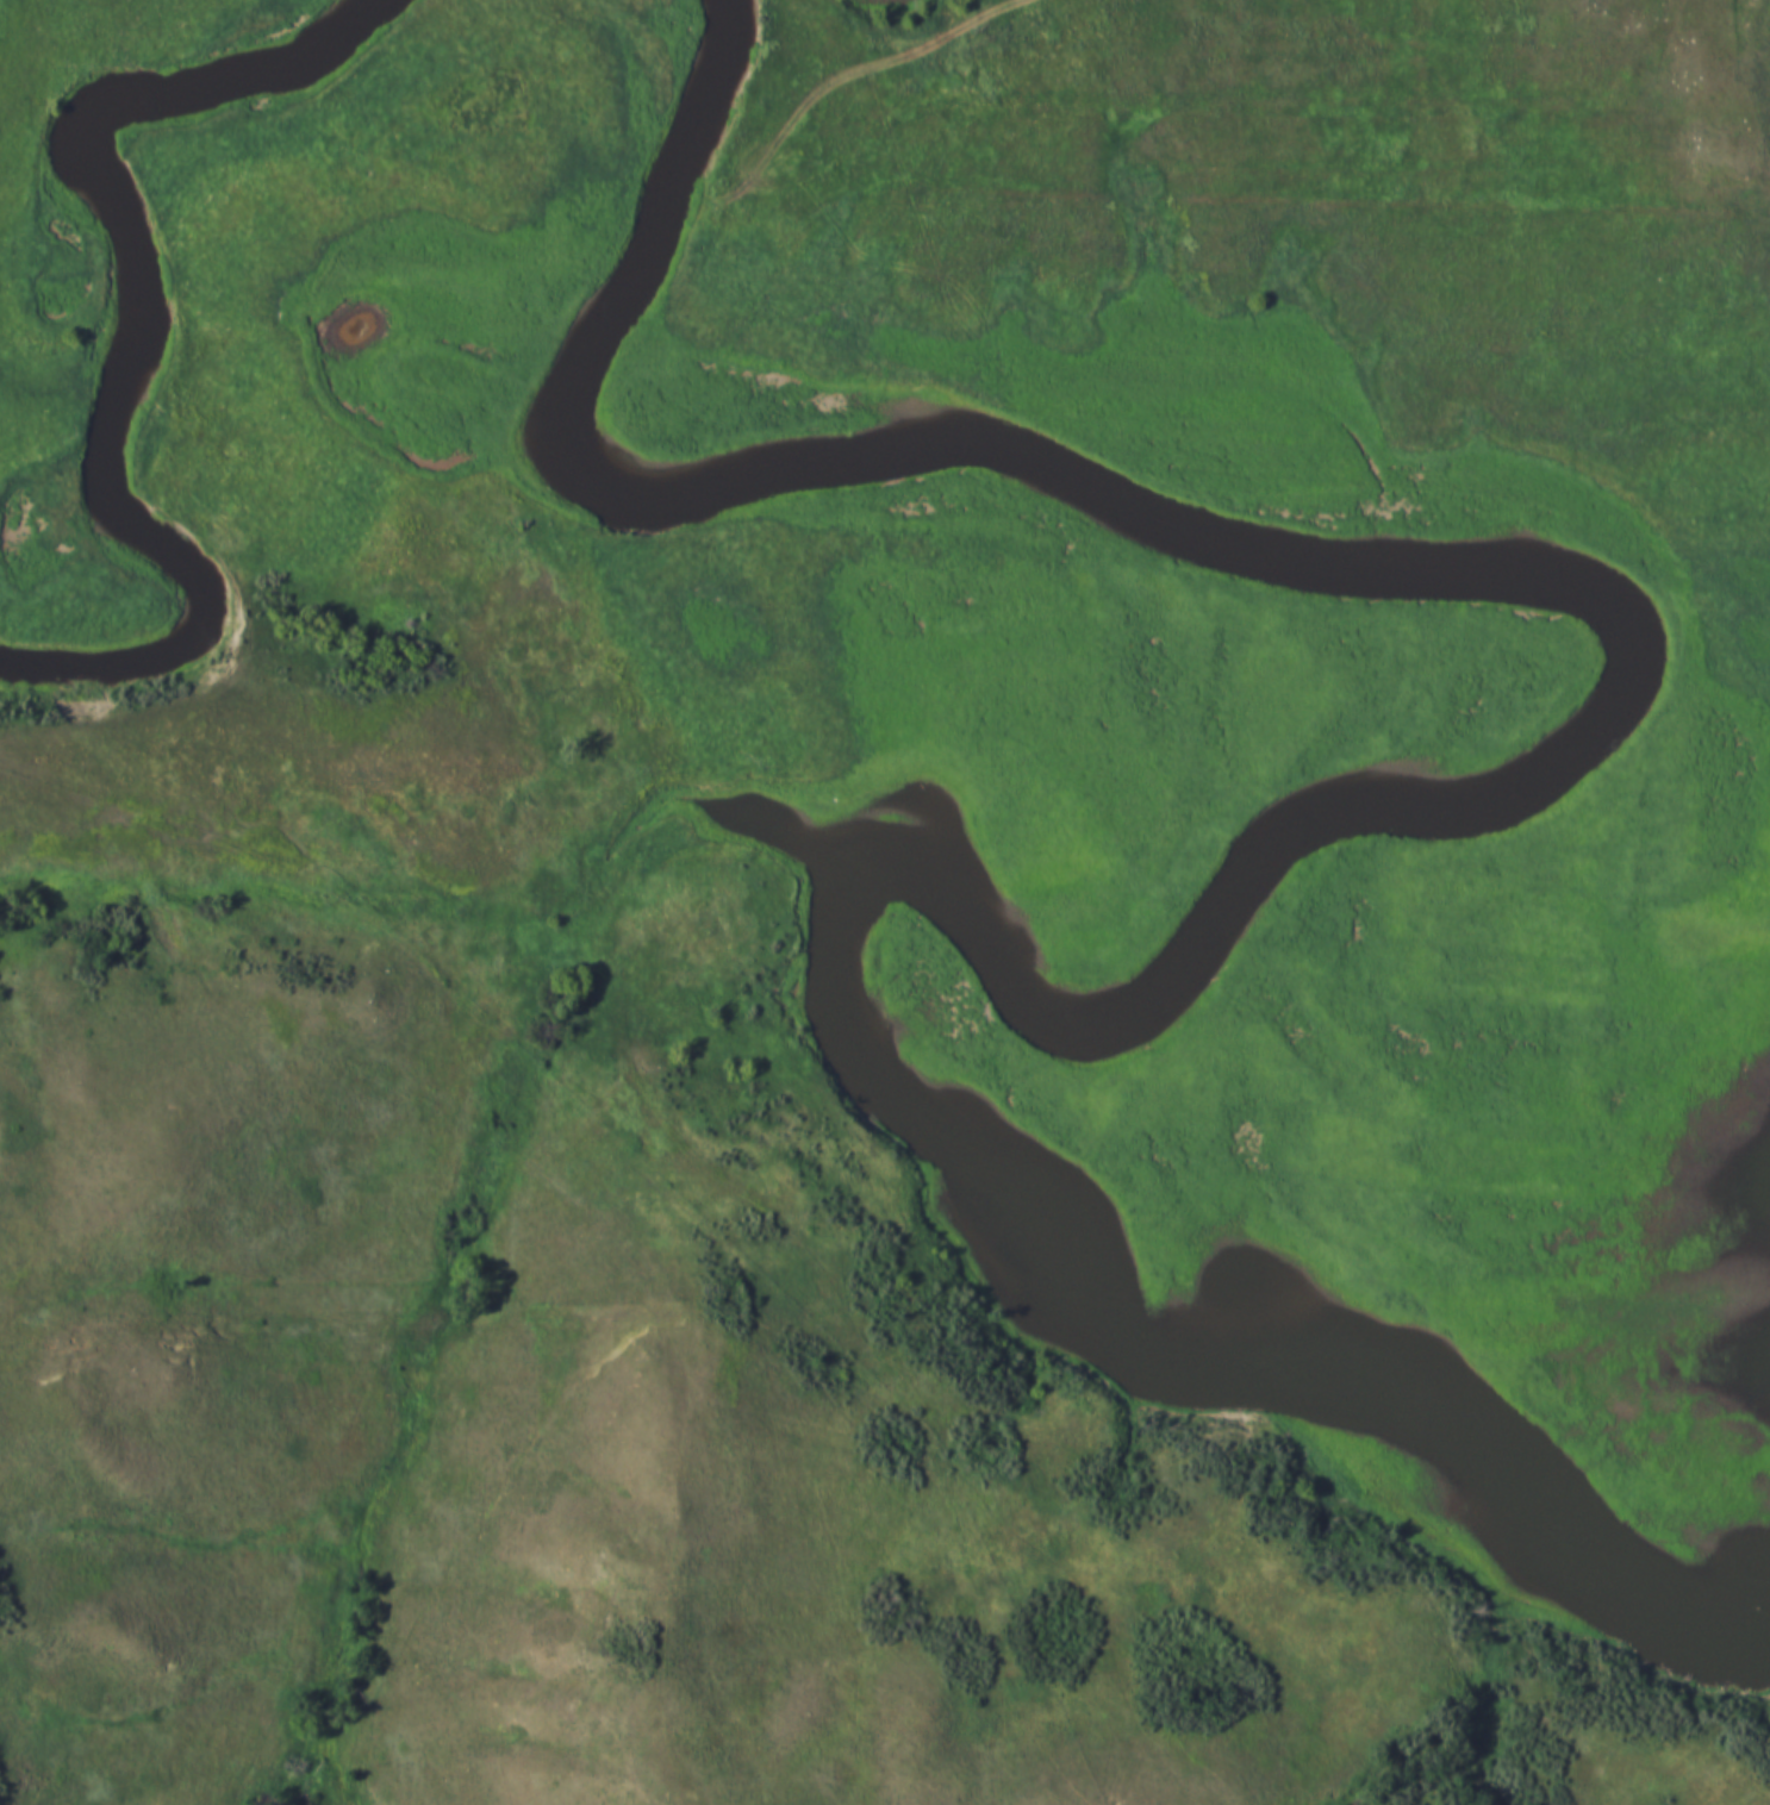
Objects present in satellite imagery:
river: (126, 329)
river: (1298, 831)

